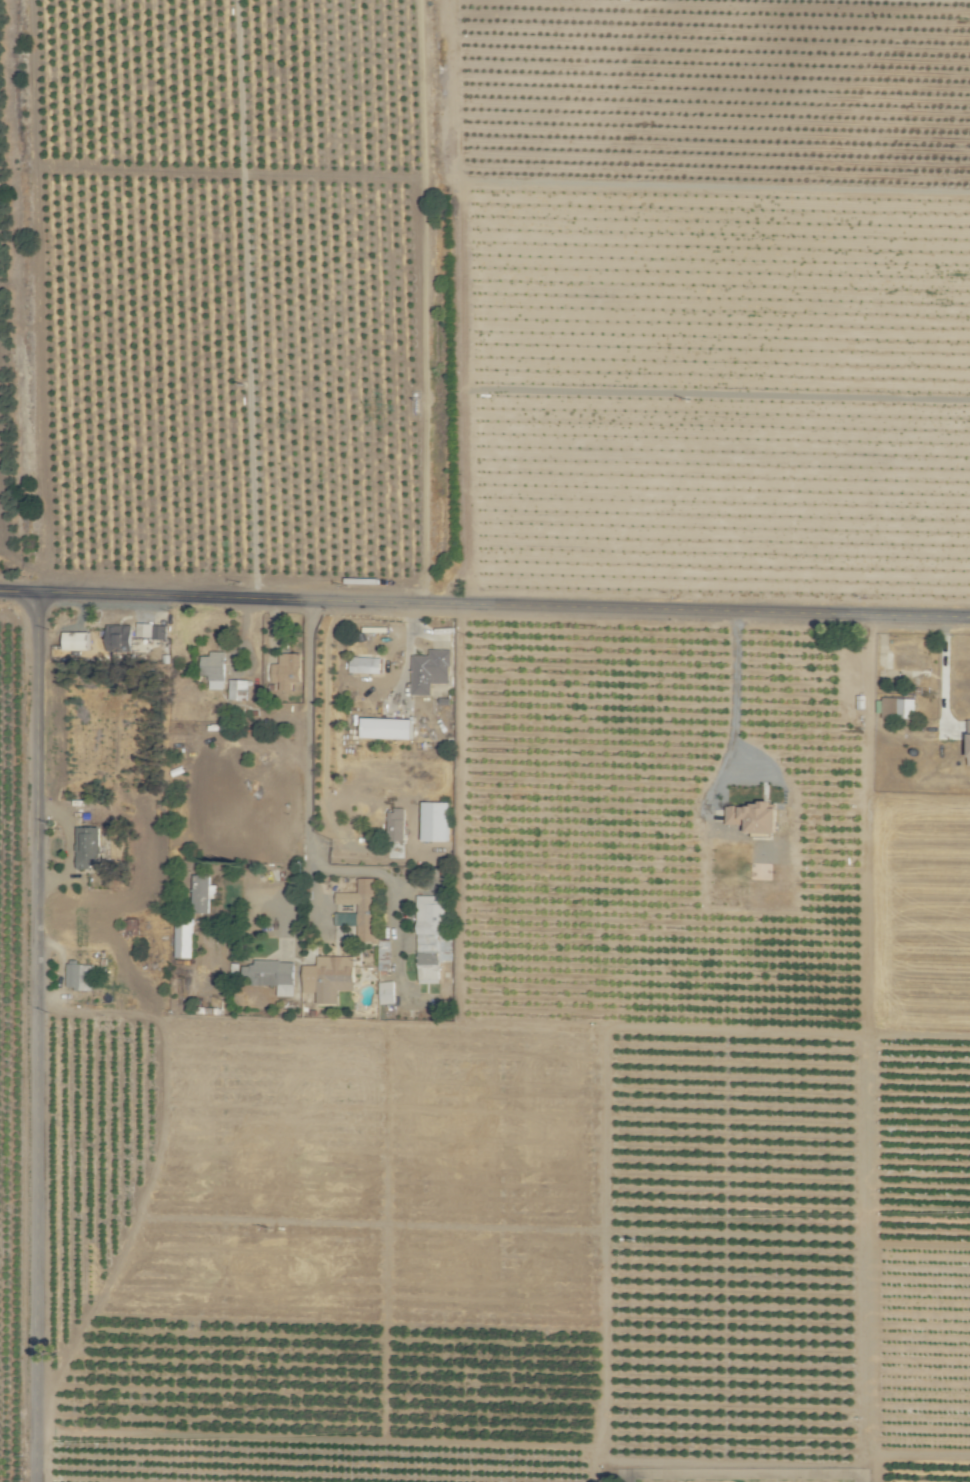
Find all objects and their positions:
road: (485, 604)
building: (151, 630)
building: (119, 638)
building: (76, 640)
building: (366, 664)
building: (214, 669)
building: (287, 670)
building: (430, 670)
road: (943, 670)
building: (238, 689)
road: (734, 694)
building: (898, 707)
crop: (445, 725)
building: (386, 728)
building: (969, 747)
building: (753, 816)
building: (435, 821)
building: (396, 824)
road: (312, 832)
building: (88, 846)
building: (202, 893)
road: (285, 896)
building: (362, 903)
building: (130, 925)
building: (183, 938)
building: (432, 938)
building: (384, 955)
building: (80, 975)
building: (272, 975)
building: (329, 977)
building: (386, 992)
road: (38, 1037)

